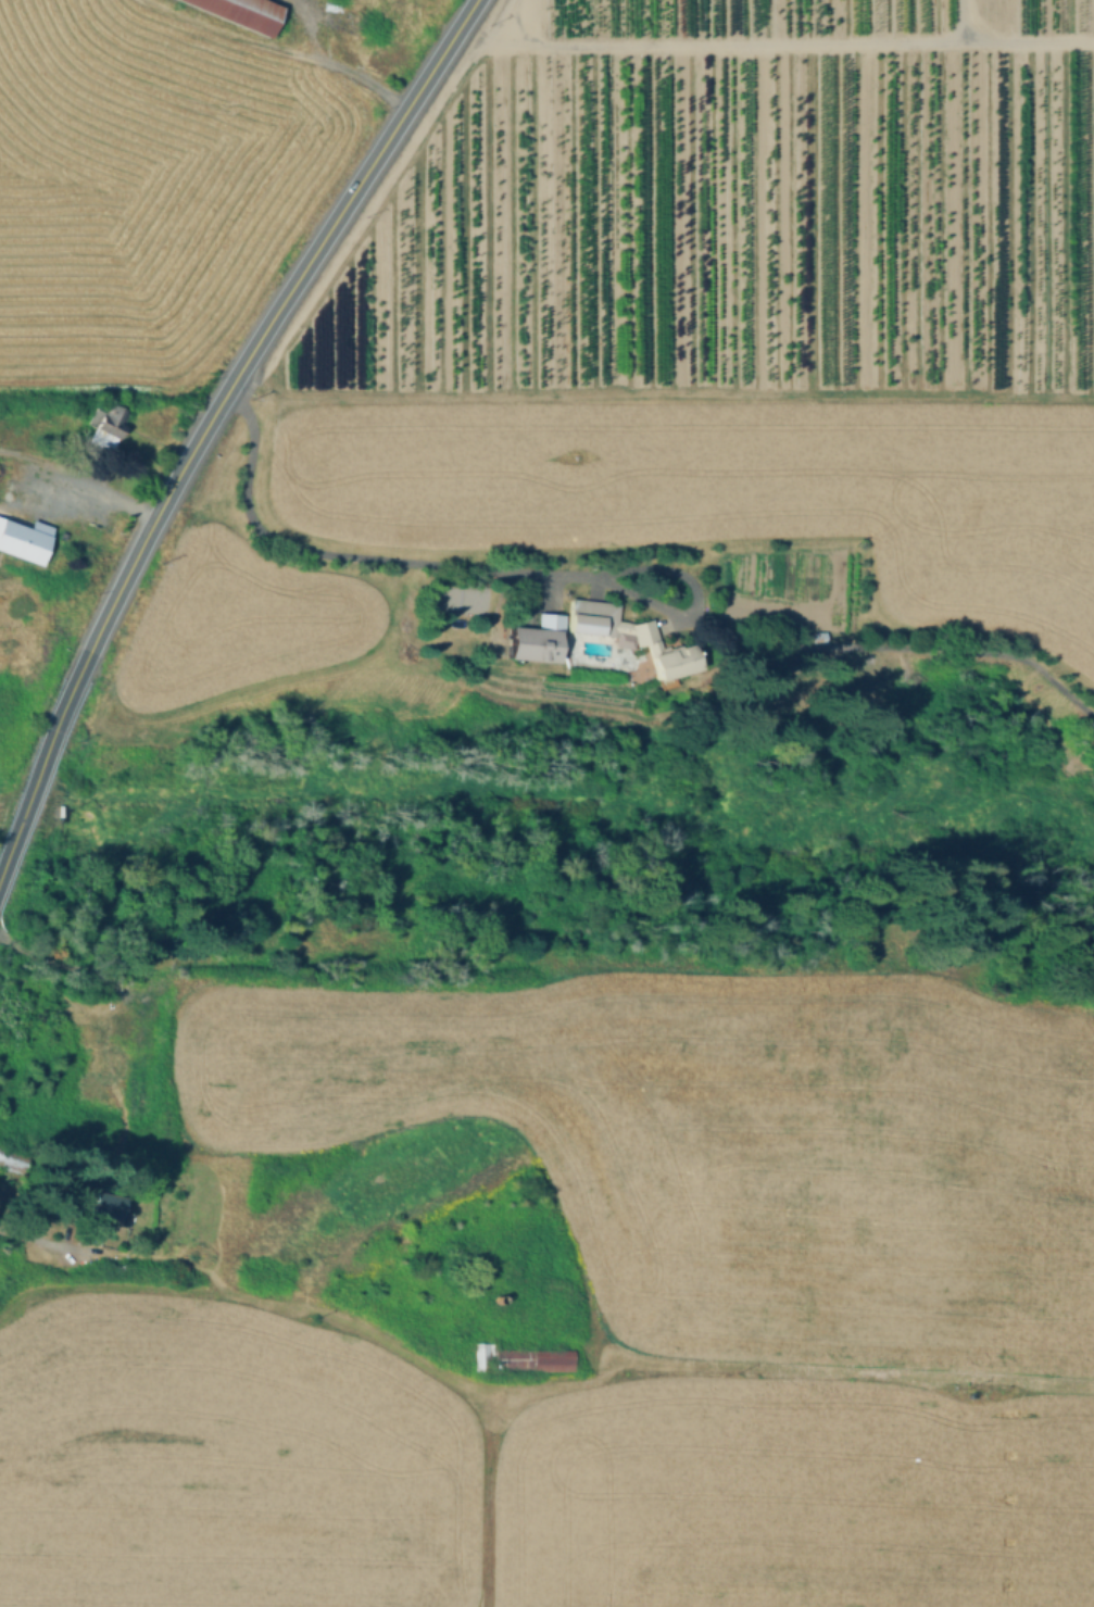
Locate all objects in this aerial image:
building: (242, 12)
road: (954, 20)
road: (309, 26)
road: (235, 34)
road: (771, 40)
road: (368, 84)
crop: (144, 187)
road: (271, 319)
building: (112, 419)
road: (78, 481)
road: (38, 492)
building: (21, 536)
road: (467, 565)
road: (549, 590)
building: (589, 615)
crop: (25, 619)
building: (643, 633)
building: (819, 636)
building: (532, 637)
building: (620, 638)
road: (896, 645)
building: (670, 658)
road: (41, 764)
crop: (731, 1141)
building: (106, 1204)
road: (39, 1239)
crop: (1092, 1336)
building: (482, 1356)
building: (537, 1360)
road: (527, 1382)
crop: (226, 1460)
road: (486, 1494)
crop: (793, 1496)

